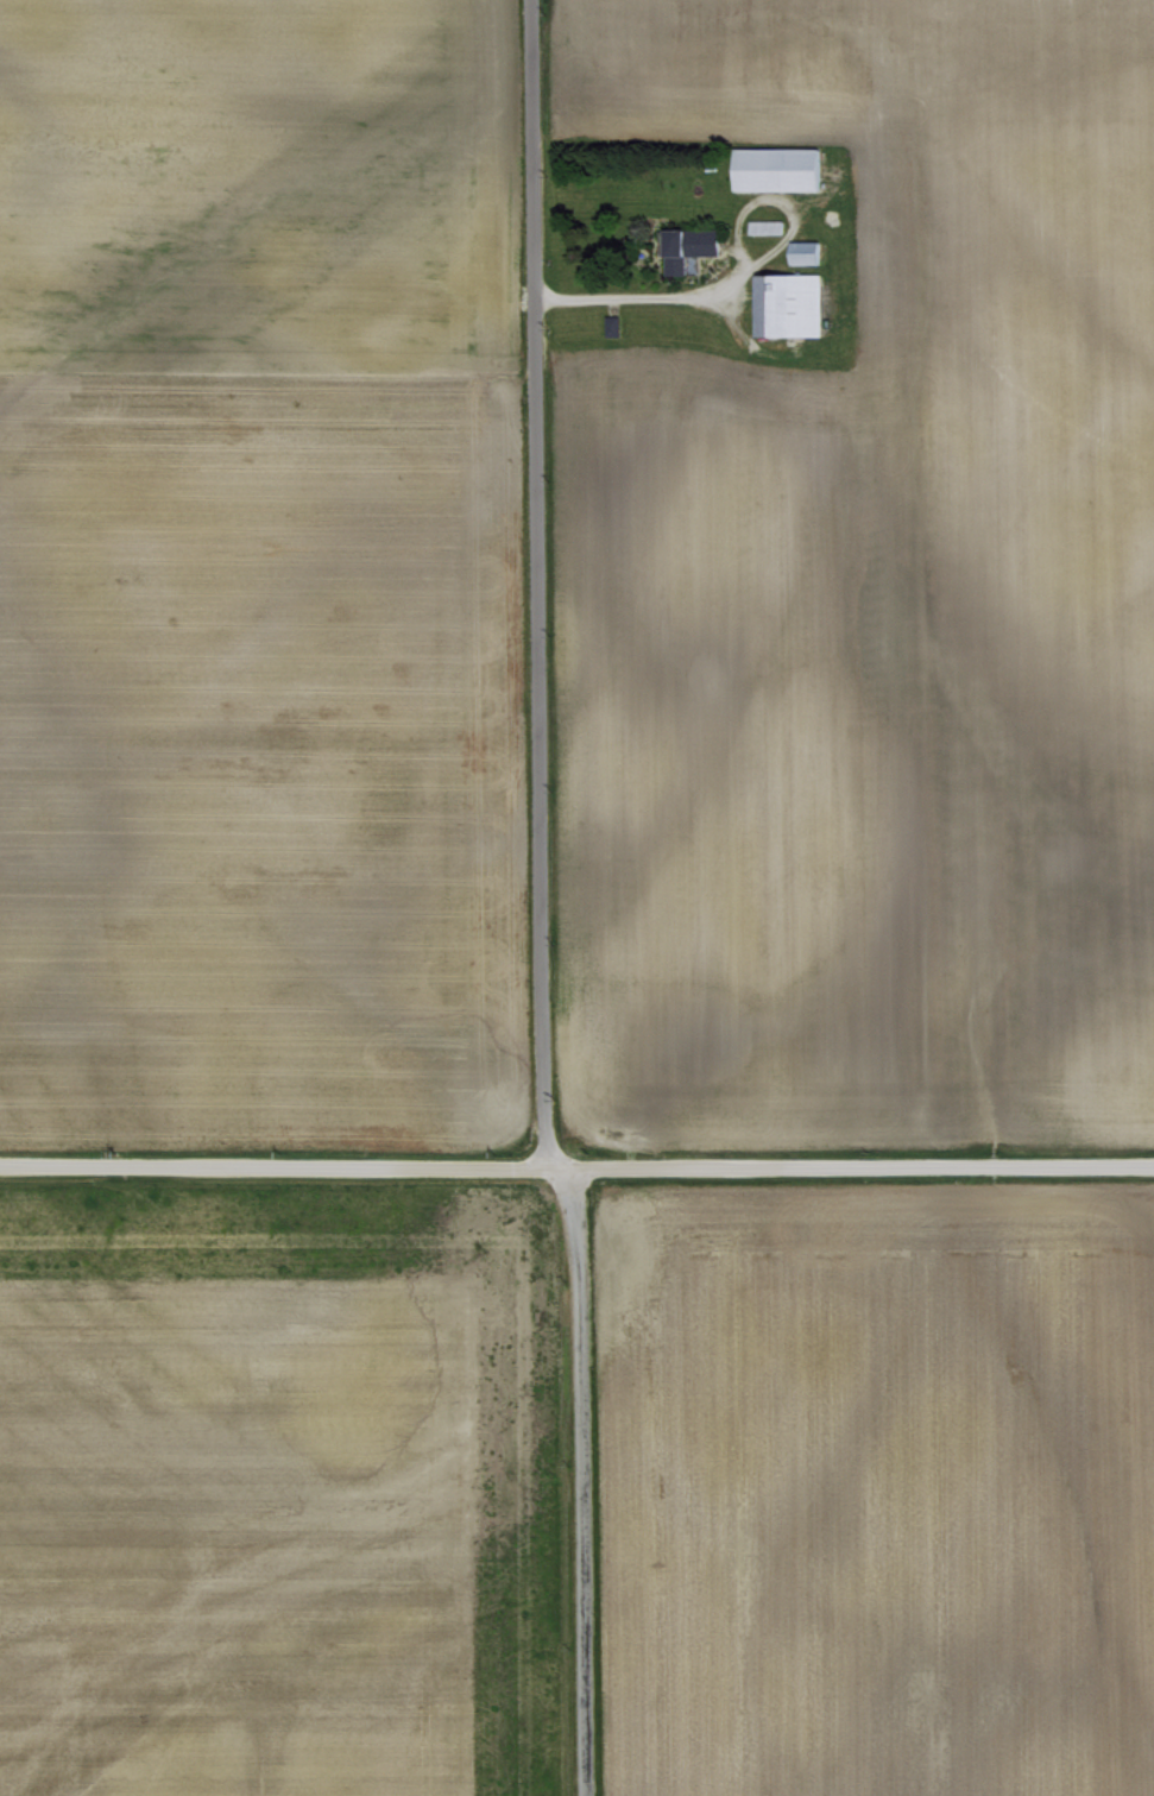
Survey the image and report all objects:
building: (776, 166)
building: (768, 225)
building: (686, 246)
building: (803, 251)
road: (740, 277)
road: (538, 585)
road: (576, 1171)
road: (581, 1481)

